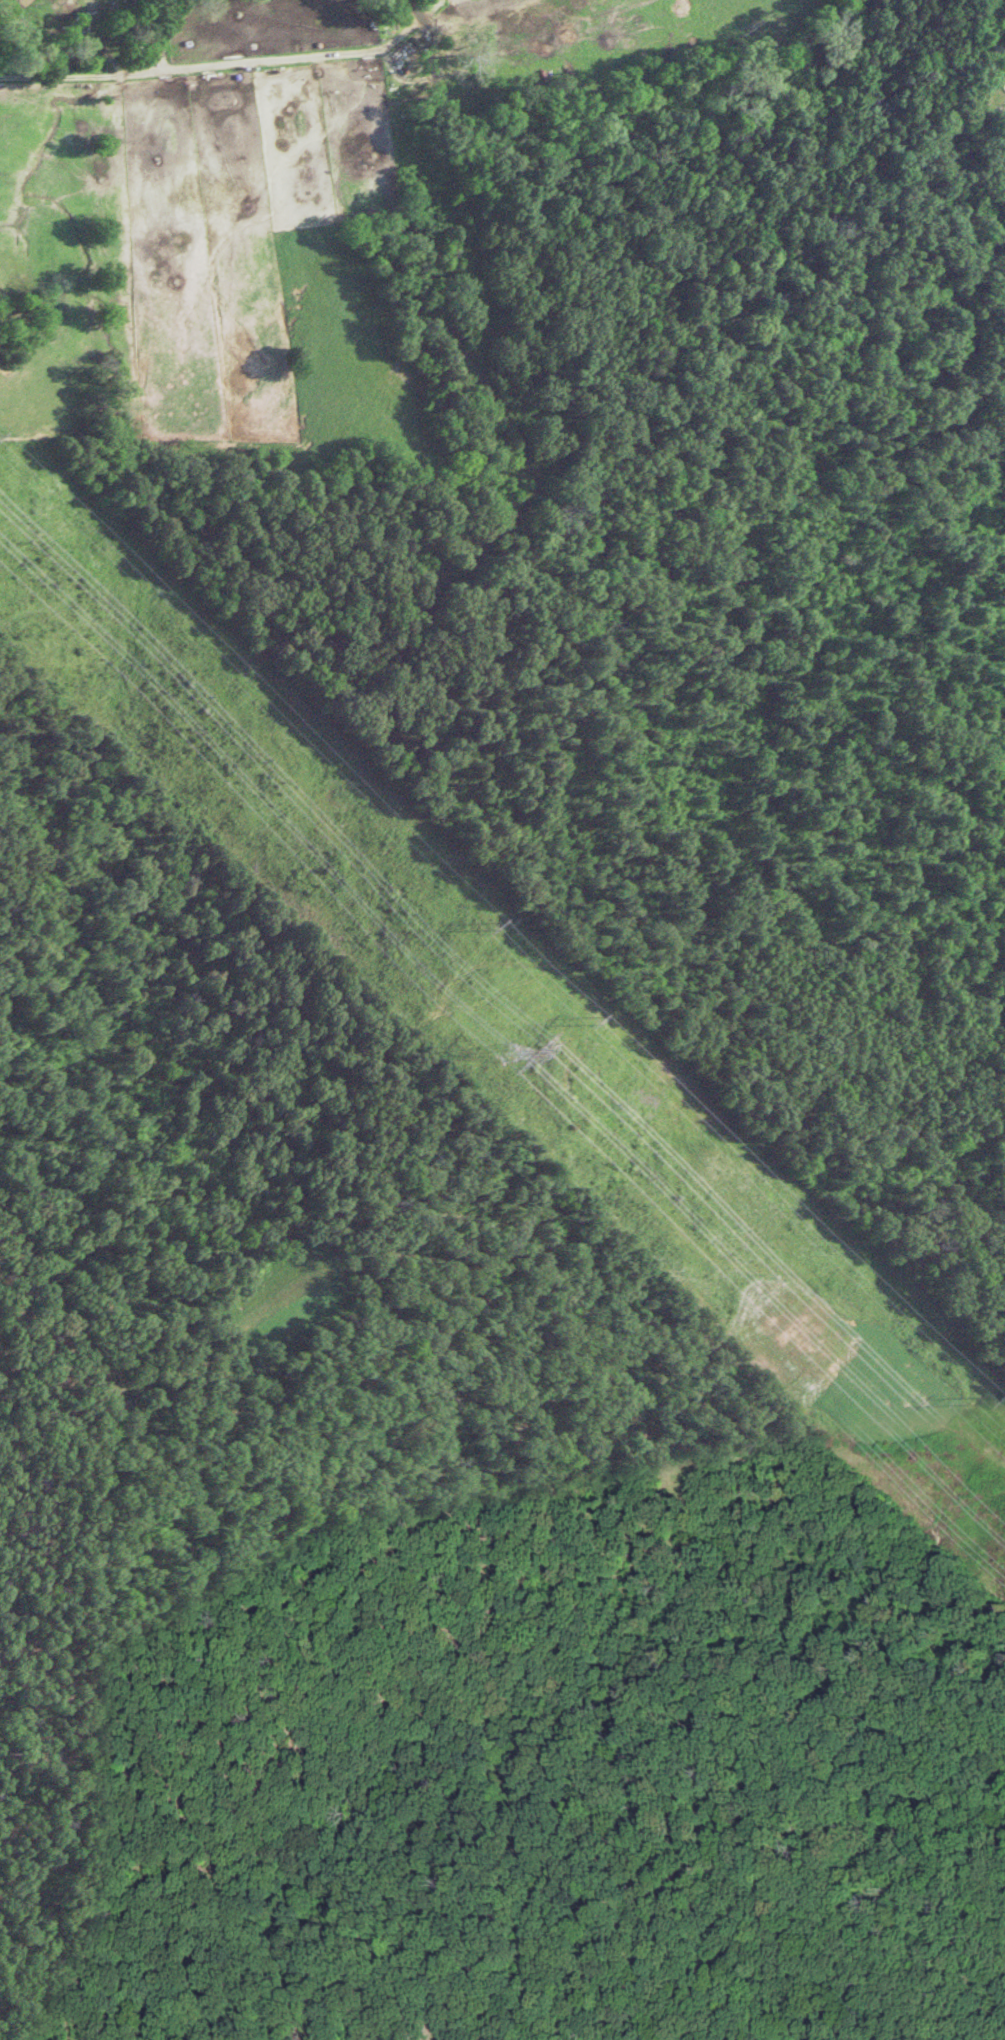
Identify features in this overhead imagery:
building: (1004, 62)
building: (1001, 104)
power tower: (498, 1051)

